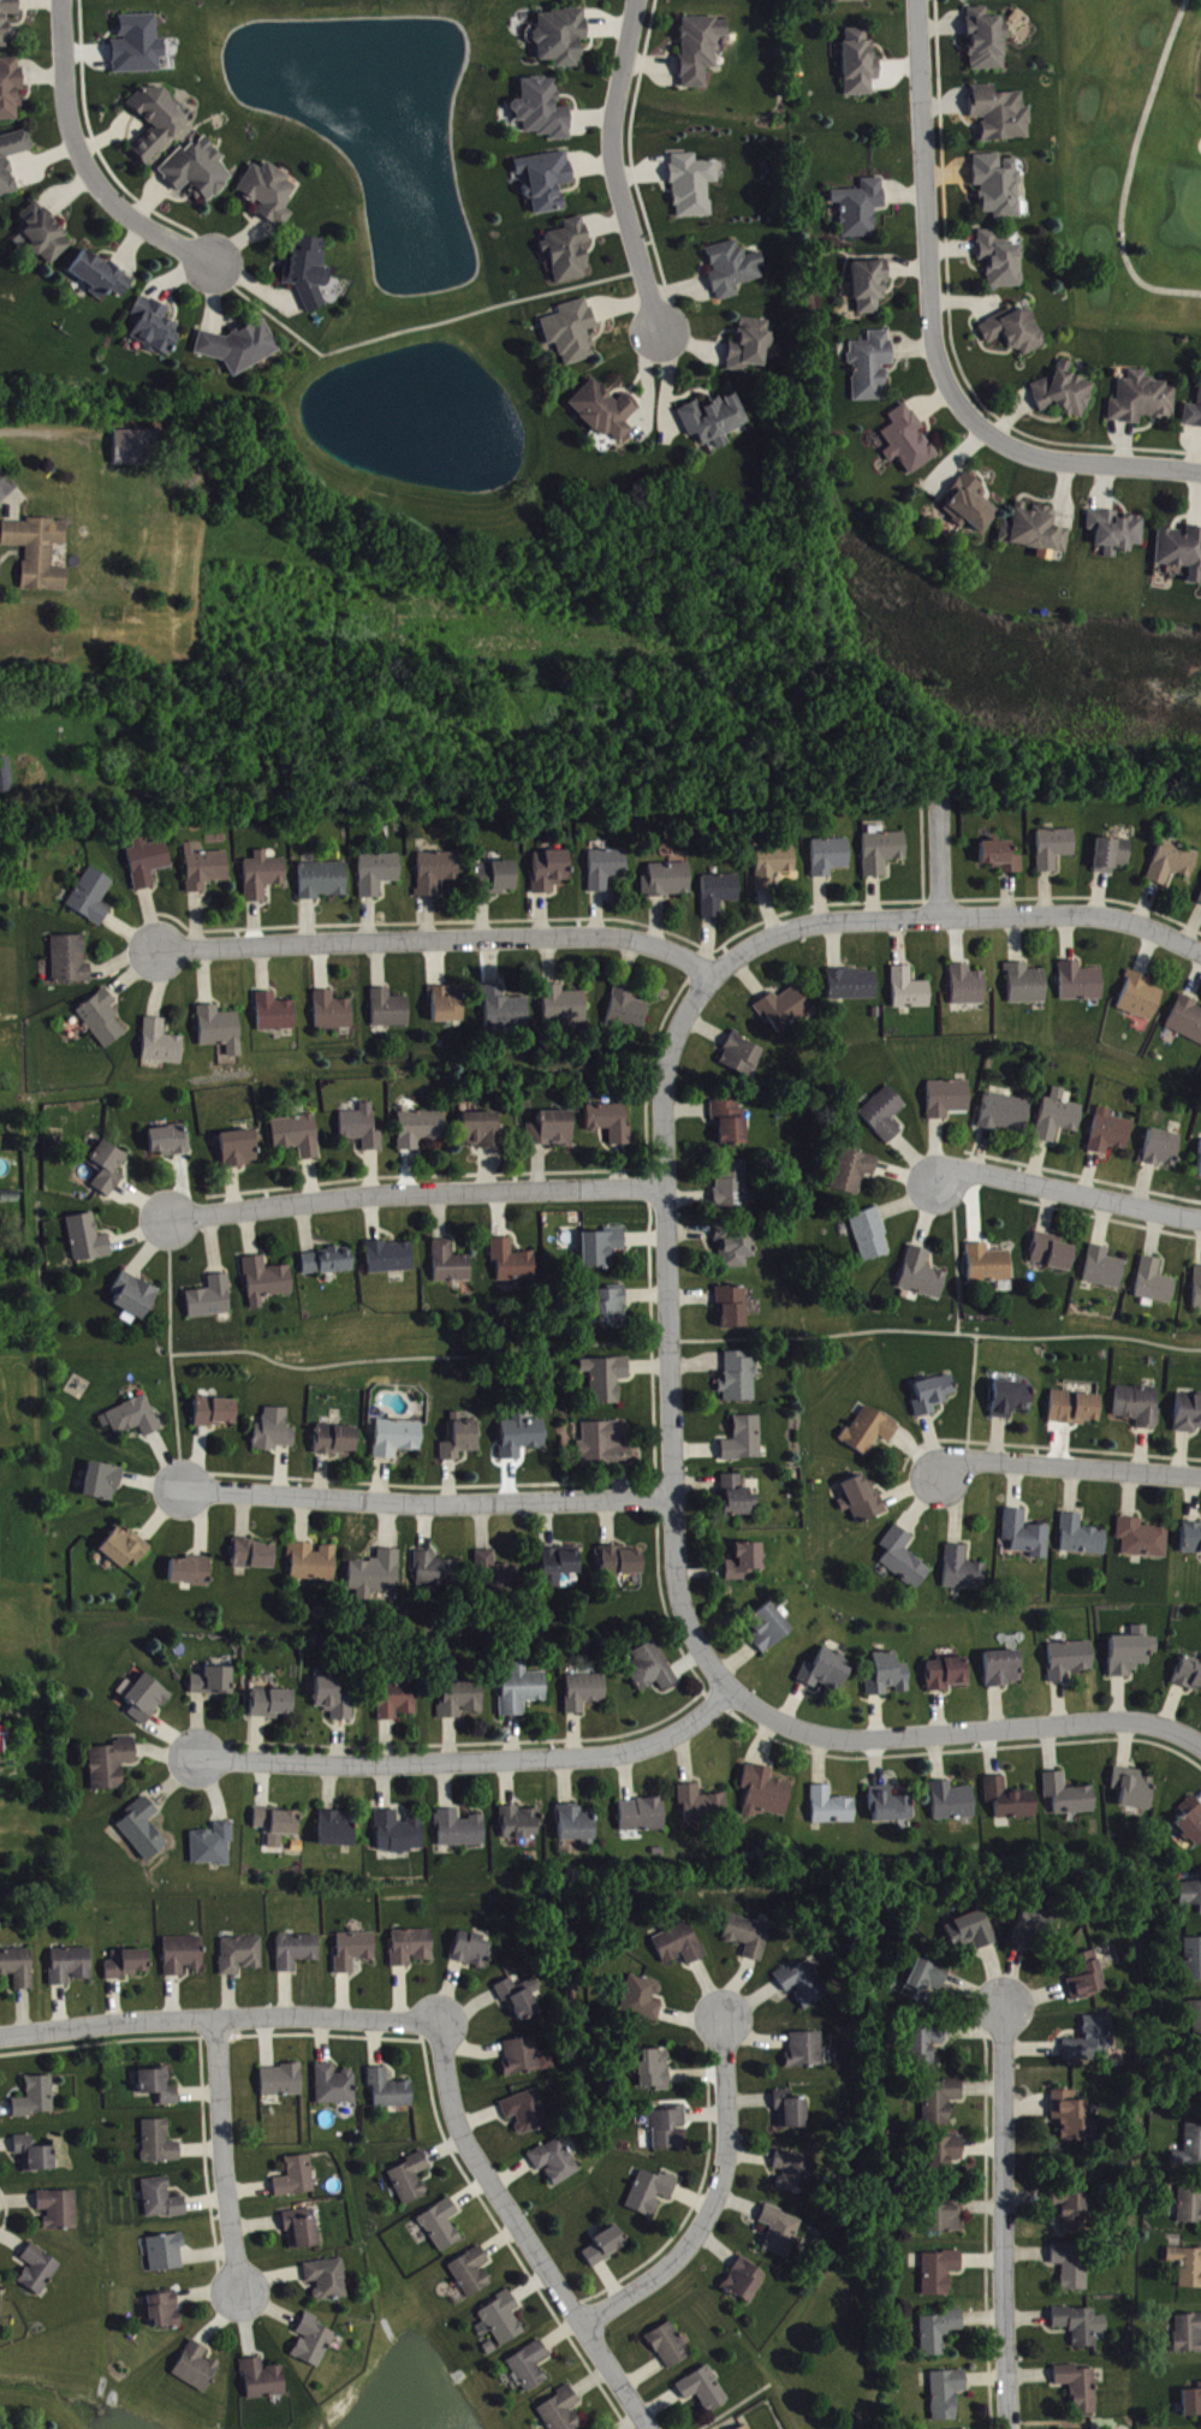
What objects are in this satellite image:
building: (969, 0)
building: (852, 1)
building: (8, 22)
building: (563, 36)
building: (987, 41)
building: (138, 46)
building: (701, 49)
building: (861, 64)
building: (11, 89)
building: (545, 109)
building: (1001, 114)
building: (157, 121)
park: (1132, 160)
road: (85, 161)
road: (614, 166)
road: (1136, 167)
building: (198, 171)
building: (7, 174)
building: (547, 180)
building: (692, 185)
building: (999, 185)
building: (270, 194)
building: (862, 208)
road: (927, 219)
building: (44, 236)
building: (569, 251)
building: (1001, 261)
building: (733, 269)
building: (309, 272)
building: (100, 275)
building: (870, 286)
road: (411, 326)
building: (155, 327)
building: (1016, 331)
building: (572, 332)
building: (240, 346)
building: (750, 346)
building: (872, 367)
building: (1065, 393)
building: (1142, 399)
building: (605, 411)
building: (1193, 416)
building: (714, 421)
building: (908, 441)
building: (137, 443)
road: (1086, 461)
road: (7, 505)
building: (970, 505)
building: (1035, 529)
building: (1117, 533)
building: (35, 548)
building: (1181, 551)
building: (4, 770)
building: (1054, 849)
building: (882, 850)
building: (1112, 855)
building: (1001, 856)
building: (831, 857)
building: (148, 862)
building: (1172, 863)
building: (774, 866)
building: (206, 868)
building: (607, 868)
building: (552, 871)
building: (438, 872)
building: (380, 874)
building: (264, 877)
building: (495, 878)
building: (325, 880)
building: (668, 880)
building: (720, 893)
building: (93, 897)
building: (1200, 903)
road: (953, 915)
road: (446, 939)
building: (71, 961)
building: (1082, 982)
building: (854, 985)
building: (1027, 985)
building: (969, 986)
building: (910, 991)
building: (1141, 998)
building: (450, 1004)
building: (564, 1005)
building: (506, 1009)
building: (391, 1010)
building: (786, 1010)
building: (628, 1011)
building: (334, 1012)
building: (277, 1014)
building: (103, 1020)
building: (1187, 1020)
building: (221, 1029)
building: (162, 1044)
building: (742, 1057)
building: (949, 1099)
building: (1006, 1113)
building: (885, 1115)
building: (1059, 1117)
building: (612, 1123)
building: (731, 1123)
building: (363, 1129)
building: (421, 1129)
building: (553, 1130)
building: (483, 1132)
building: (1111, 1133)
building: (298, 1136)
building: (170, 1141)
building: (1163, 1148)
building: (240, 1150)
building: (108, 1169)
building: (855, 1172)
building: (733, 1187)
road: (1068, 1190)
road: (418, 1192)
building: (872, 1235)
building: (89, 1240)
building: (736, 1247)
building: (604, 1248)
building: (1053, 1253)
building: (392, 1258)
building: (329, 1263)
building: (515, 1263)
building: (452, 1265)
building: (989, 1265)
building: (1105, 1269)
building: (923, 1276)
building: (267, 1282)
building: (1155, 1283)
building: (1197, 1289)
building: (135, 1299)
building: (213, 1299)
building: (612, 1306)
building: (733, 1308)
road: (670, 1332)
building: (607, 1379)
building: (741, 1379)
building: (934, 1395)
building: (1011, 1400)
building: (1140, 1407)
building: (1076, 1408)
building: (218, 1413)
building: (1189, 1414)
building: (136, 1418)
building: (870, 1431)
building: (277, 1432)
building: (523, 1437)
building: (399, 1438)
building: (462, 1438)
building: (338, 1441)
building: (745, 1441)
building: (605, 1445)
road: (1069, 1469)
building: (102, 1483)
building: (738, 1498)
building: (862, 1499)
road: (430, 1504)
building: (1027, 1536)
building: (1082, 1538)
building: (1143, 1539)
building: (1193, 1539)
building: (125, 1548)
building: (255, 1556)
building: (904, 1558)
building: (622, 1562)
building: (745, 1562)
building: (314, 1563)
building: (561, 1563)
building: (192, 1572)
building: (436, 1572)
building: (964, 1572)
building: (497, 1573)
building: (377, 1578)
building: (768, 1627)
building: (1132, 1652)
building: (1070, 1661)
building: (653, 1669)
building: (1004, 1669)
building: (826, 1671)
building: (949, 1675)
building: (888, 1676)
building: (1189, 1676)
building: (214, 1682)
building: (523, 1691)
building: (585, 1693)
building: (337, 1699)
building: (462, 1699)
building: (147, 1700)
building: (398, 1702)
building: (273, 1704)
building: (7, 1732)
road: (961, 1733)
road: (481, 1758)
building: (111, 1765)
building: (1134, 1789)
building: (766, 1793)
building: (1068, 1798)
building: (1011, 1801)
building: (953, 1803)
building: (703, 1806)
building: (891, 1807)
building: (832, 1809)
building: (643, 1816)
building: (1191, 1822)
building: (523, 1824)
building: (279, 1825)
building: (578, 1825)
building: (143, 1830)
building: (338, 1830)
building: (462, 1830)
building: (399, 1834)
building: (214, 1846)
building: (1190, 1895)
building: (1033, 1926)
building: (973, 1932)
building: (750, 1936)
building: (680, 1946)
building: (412, 1948)
building: (472, 1950)
building: (298, 1952)
building: (356, 1952)
building: (184, 1955)
building: (243, 1956)
building: (1194, 1959)
building: (129, 1965)
building: (71, 1966)
building: (18, 1967)
building: (1087, 1977)
building: (924, 1982)
building: (804, 1984)
building: (522, 1999)
building: (643, 2000)
road: (221, 2019)
building: (1196, 2020)
building: (1092, 2042)
building: (927, 2043)
building: (807, 2051)
building: (525, 2057)
building: (655, 2071)
building: (283, 2081)
building: (1197, 2081)
building: (335, 2086)
building: (160, 2087)
building: (391, 2091)
building: (37, 2098)
building: (941, 2101)
building: (792, 2112)
building: (528, 2113)
building: (1071, 2116)
building: (670, 2128)
building: (160, 2143)
building: (1190, 2149)
building: (36, 2155)
building: (947, 2156)
road: (224, 2157)
building: (557, 2162)
building: (796, 2173)
building: (297, 2178)
building: (410, 2180)
building: (652, 2193)
building: (162, 2201)
road: (719, 2202)
building: (1190, 2204)
building: (60, 2210)
building: (1074, 2213)
building: (946, 2217)
road: (1005, 2220)
building: (442, 2226)
building: (302, 2229)
road: (529, 2232)
building: (781, 2232)
building: (607, 2247)
building: (167, 2253)
building: (1074, 2267)
building: (1188, 2267)
building: (38, 2270)
building: (472, 2273)
building: (941, 2273)
building: (328, 2280)
building: (745, 2281)
building: (1, 2308)
building: (165, 2311)
building: (503, 2321)
building: (1082, 2326)
building: (941, 2333)
building: (1189, 2334)
building: (314, 2342)
building: (671, 2346)
building: (530, 2368)
building: (198, 2369)
building: (264, 2381)
building: (1082, 2388)
building: (706, 2391)
building: (949, 2395)
building: (1193, 2403)
building: (561, 2411)
building: (748, 2428)

